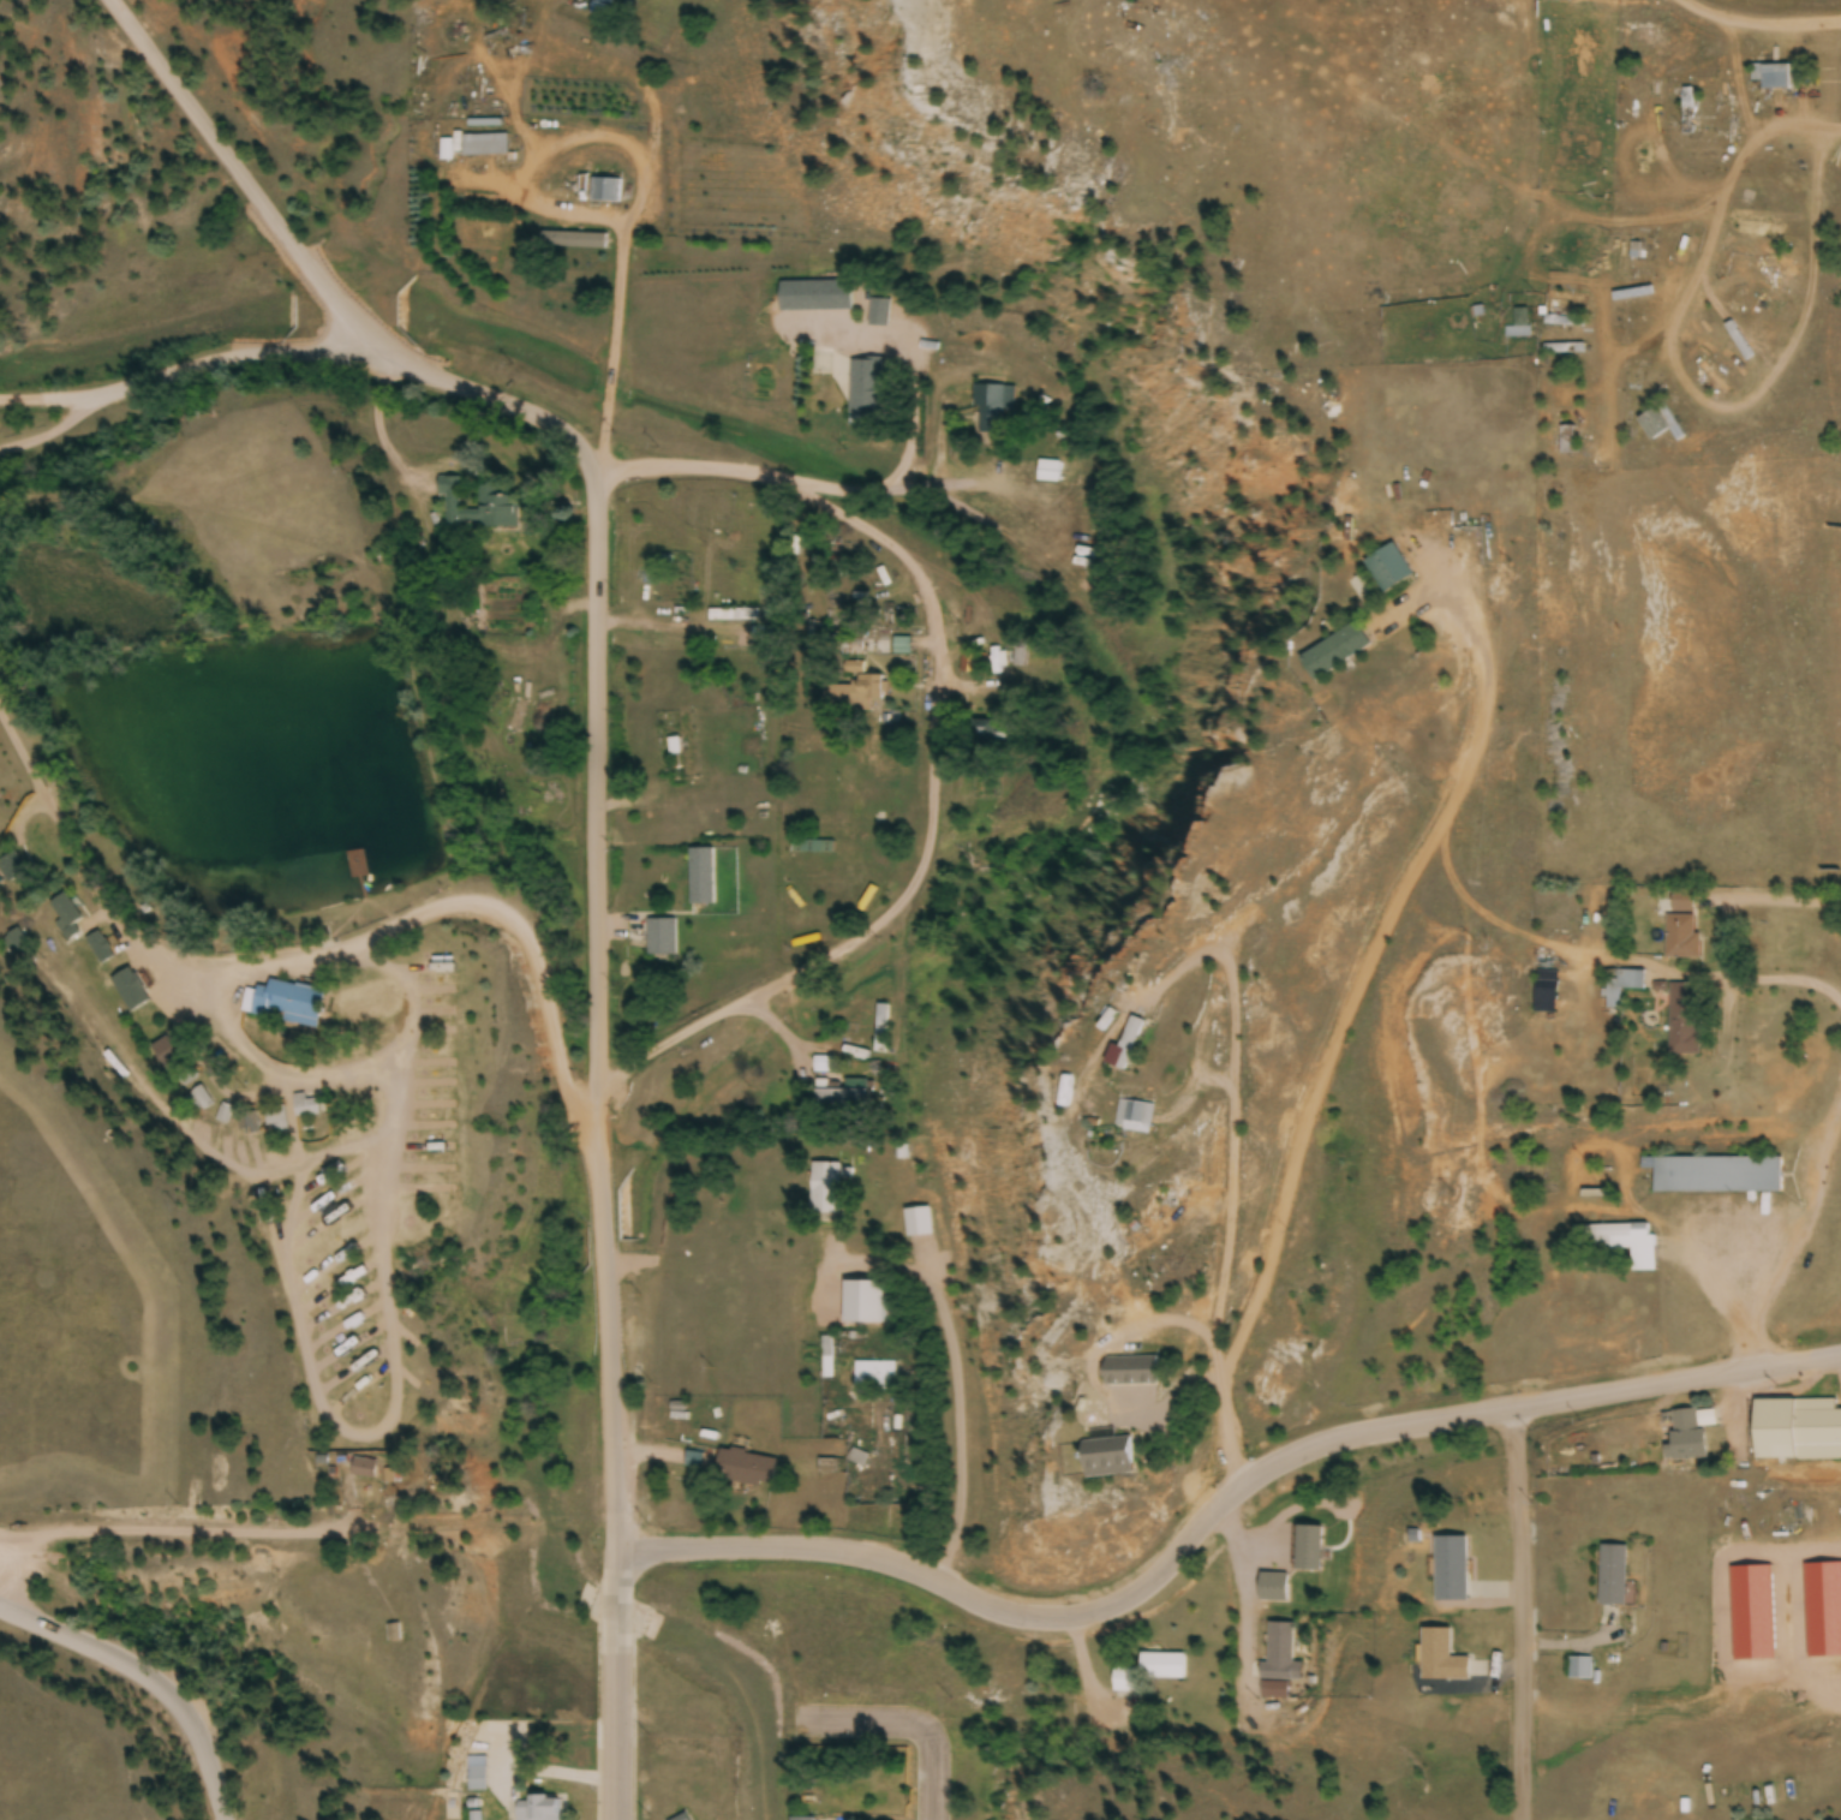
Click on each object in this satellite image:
building: (1771, 77)
building: (1688, 112)
building: (484, 147)
building: (446, 151)
building: (605, 192)
building: (573, 243)
road: (317, 278)
building: (814, 298)
building: (1567, 299)
building: (877, 315)
building: (1520, 326)
building: (1564, 351)
road: (174, 369)
building: (1713, 380)
building: (865, 392)
road: (52, 394)
building: (993, 412)
building: (1660, 425)
building: (1567, 441)
building: (1048, 473)
building: (497, 505)
building: (1387, 569)
building: (1332, 654)
building: (972, 664)
building: (857, 696)
building: (982, 735)
road: (934, 741)
building: (685, 747)
building: (12, 867)
building: (355, 870)
building: (700, 879)
building: (67, 917)
building: (1680, 938)
building: (661, 939)
building: (98, 948)
road: (300, 959)
building: (1622, 987)
building: (128, 991)
building: (1546, 991)
building: (283, 1004)
road: (598, 1020)
building: (1682, 1021)
building: (881, 1031)
building: (1123, 1049)
building: (163, 1050)
building: (841, 1097)
building: (199, 1100)
building: (309, 1105)
building: (1131, 1116)
building: (247, 1124)
building: (1716, 1176)
building: (825, 1191)
building: (917, 1224)
building: (1620, 1245)
building: (1144, 1248)
building: (1128, 1371)
building: (873, 1377)
road: (1674, 1382)
road: (956, 1416)
building: (1797, 1432)
building: (1686, 1436)
building: (1104, 1456)
building: (361, 1468)
building: (745, 1468)
road: (144, 1542)
building: (1308, 1549)
building: (1450, 1570)
building: (1612, 1576)
building: (1273, 1588)
road: (1088, 1610)
road: (1519, 1617)
building: (390, 1634)
building: (1278, 1653)
building: (1440, 1658)
building: (1580, 1670)
building: (1147, 1673)
road: (145, 1682)
road: (616, 1688)
road: (868, 1721)
building: (476, 1776)
road: (931, 1779)
building: (537, 1809)
building: (801, 1819)

